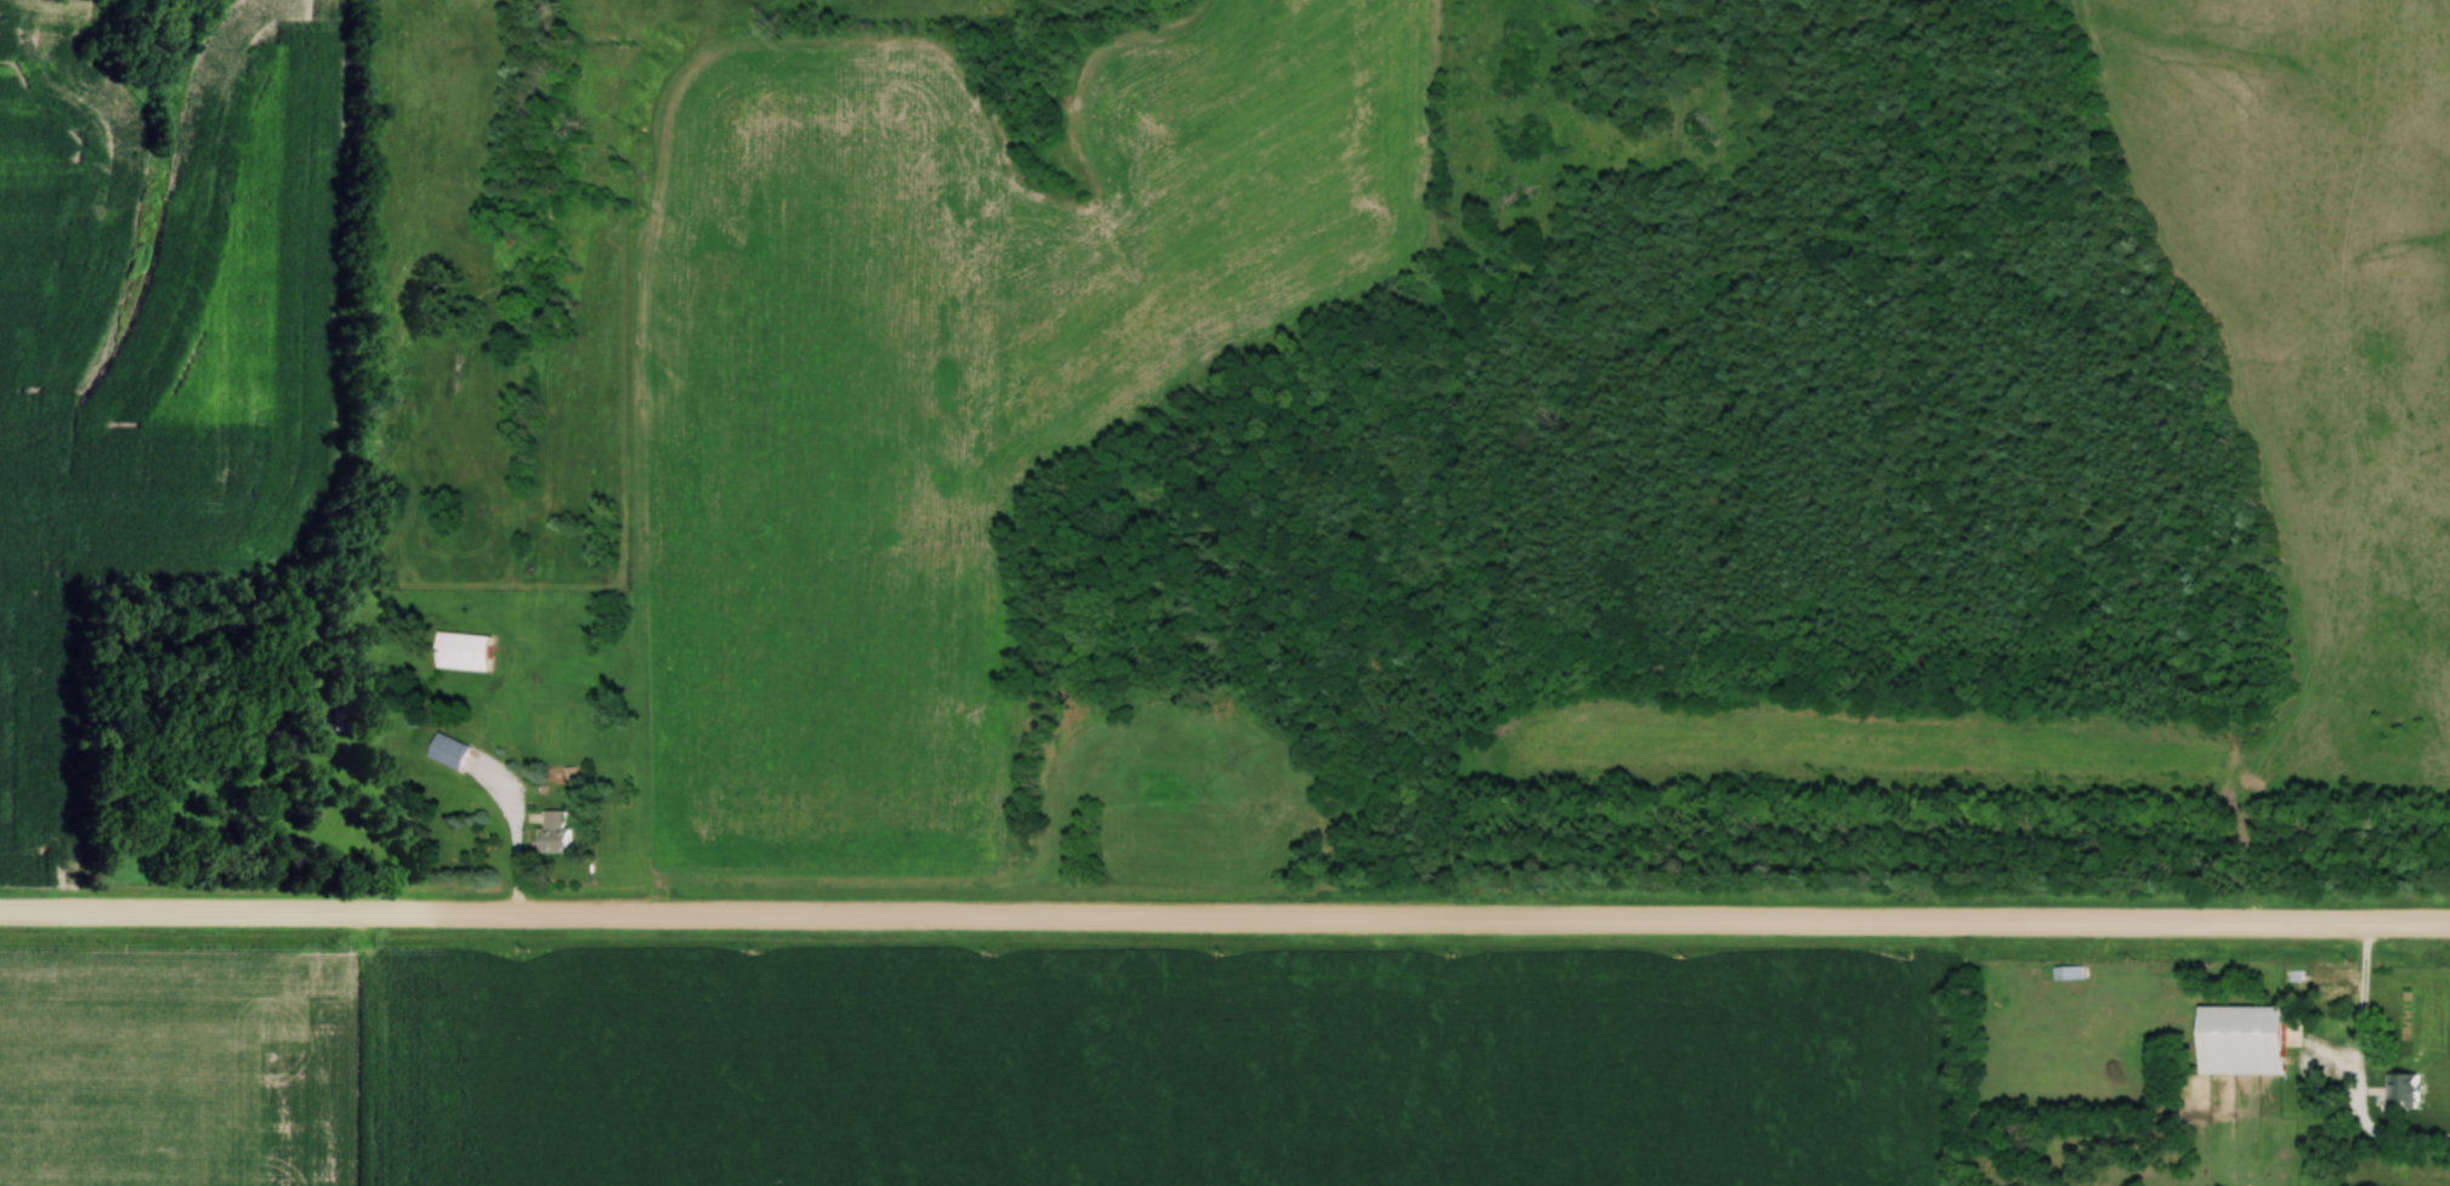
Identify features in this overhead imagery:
building: (464, 652)
building: (450, 751)
building: (556, 832)
road: (1225, 919)
building: (2069, 974)
building: (2331, 989)
building: (2245, 1040)
building: (2406, 1088)
road: (2392, 1134)

